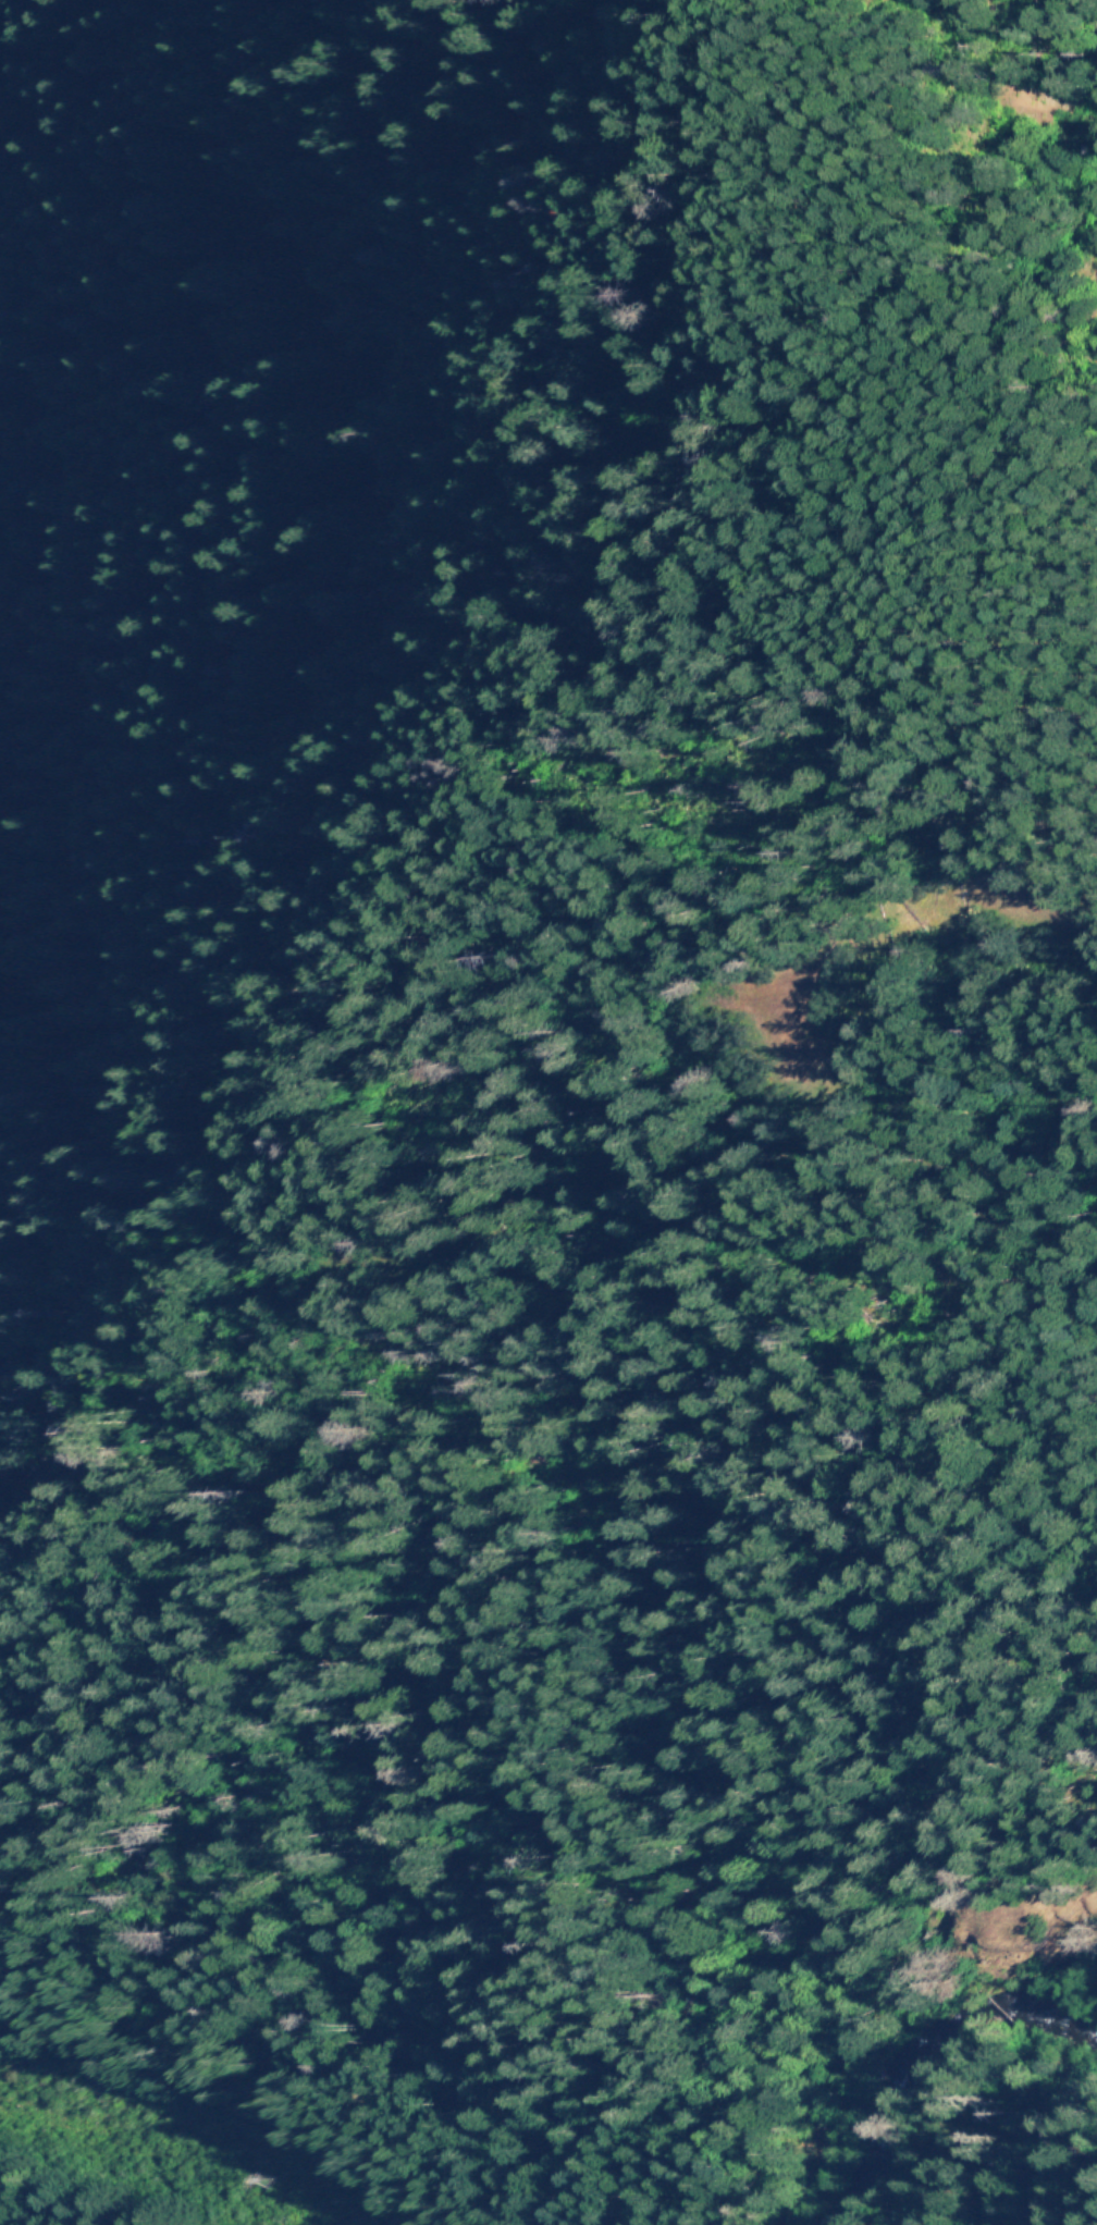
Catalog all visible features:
river: (930, 2066)

